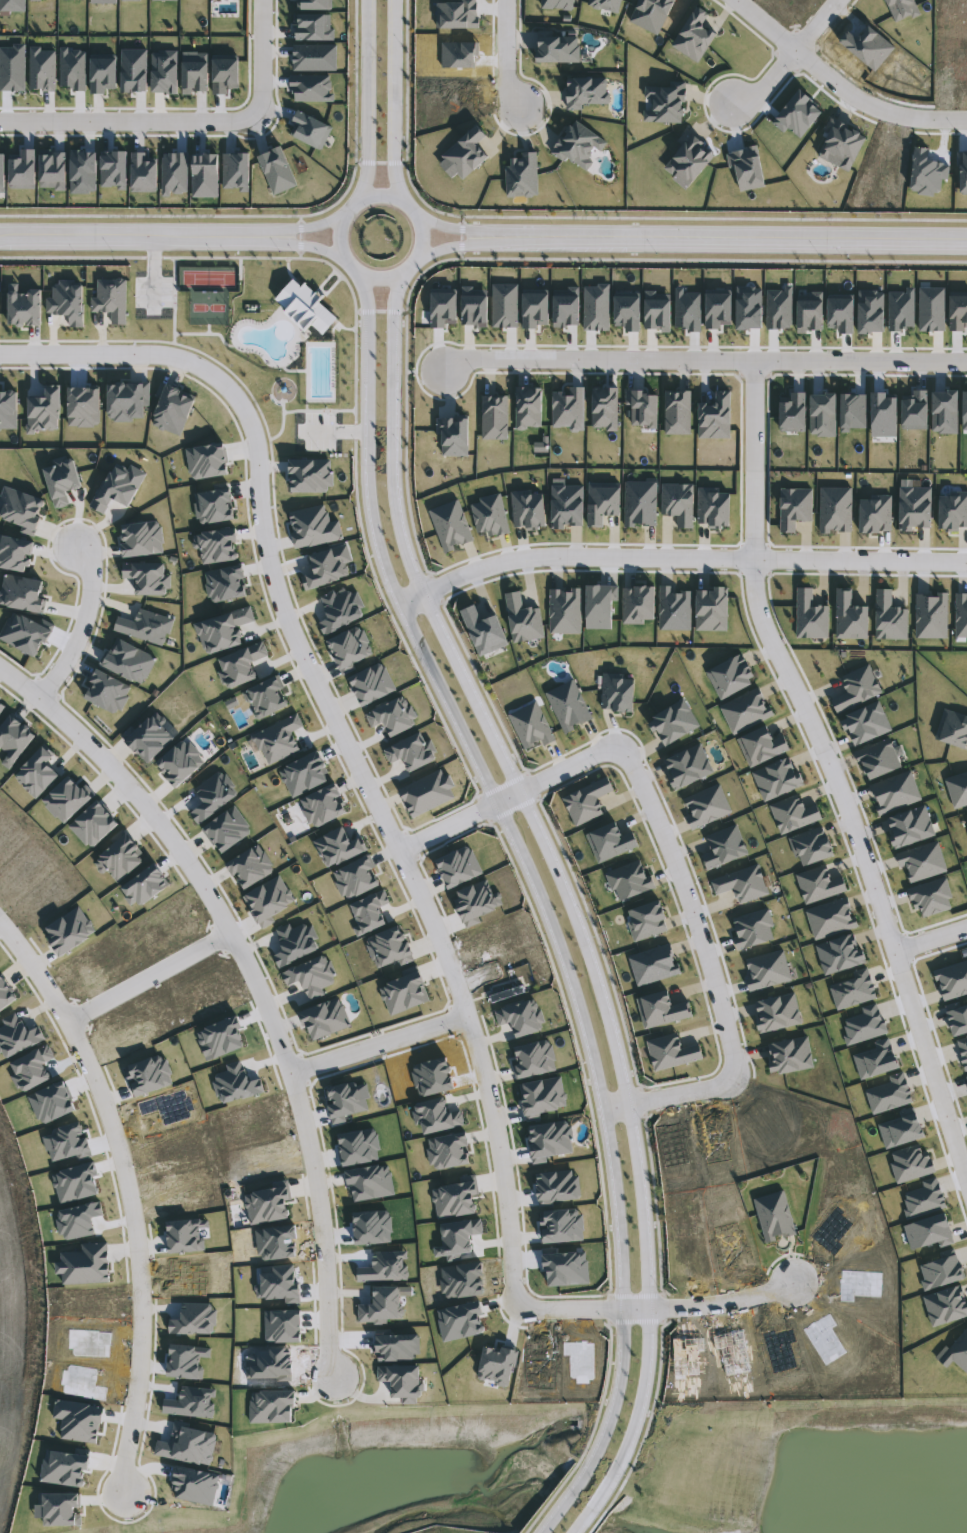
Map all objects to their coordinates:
road: (506, 55)
road: (262, 56)
road: (789, 56)
road: (839, 86)
road: (367, 100)
road: (392, 103)
road: (128, 122)
road: (314, 225)
road: (451, 228)
road: (140, 236)
road: (728, 239)
road: (451, 246)
road: (313, 247)
road: (398, 271)
road: (133, 353)
road: (702, 364)
road: (752, 463)
road: (678, 557)
road: (80, 624)
road: (333, 719)
road: (826, 753)
road: (506, 798)
road: (175, 848)
road: (565, 893)
road: (539, 901)
road: (690, 907)
road: (931, 938)
road: (147, 975)
road: (379, 1042)
road: (931, 1061)
road: (669, 1094)
road: (498, 1158)
road: (123, 1186)
road: (320, 1218)
road: (708, 1304)
road: (570, 1310)
crop: (17, 1328)

